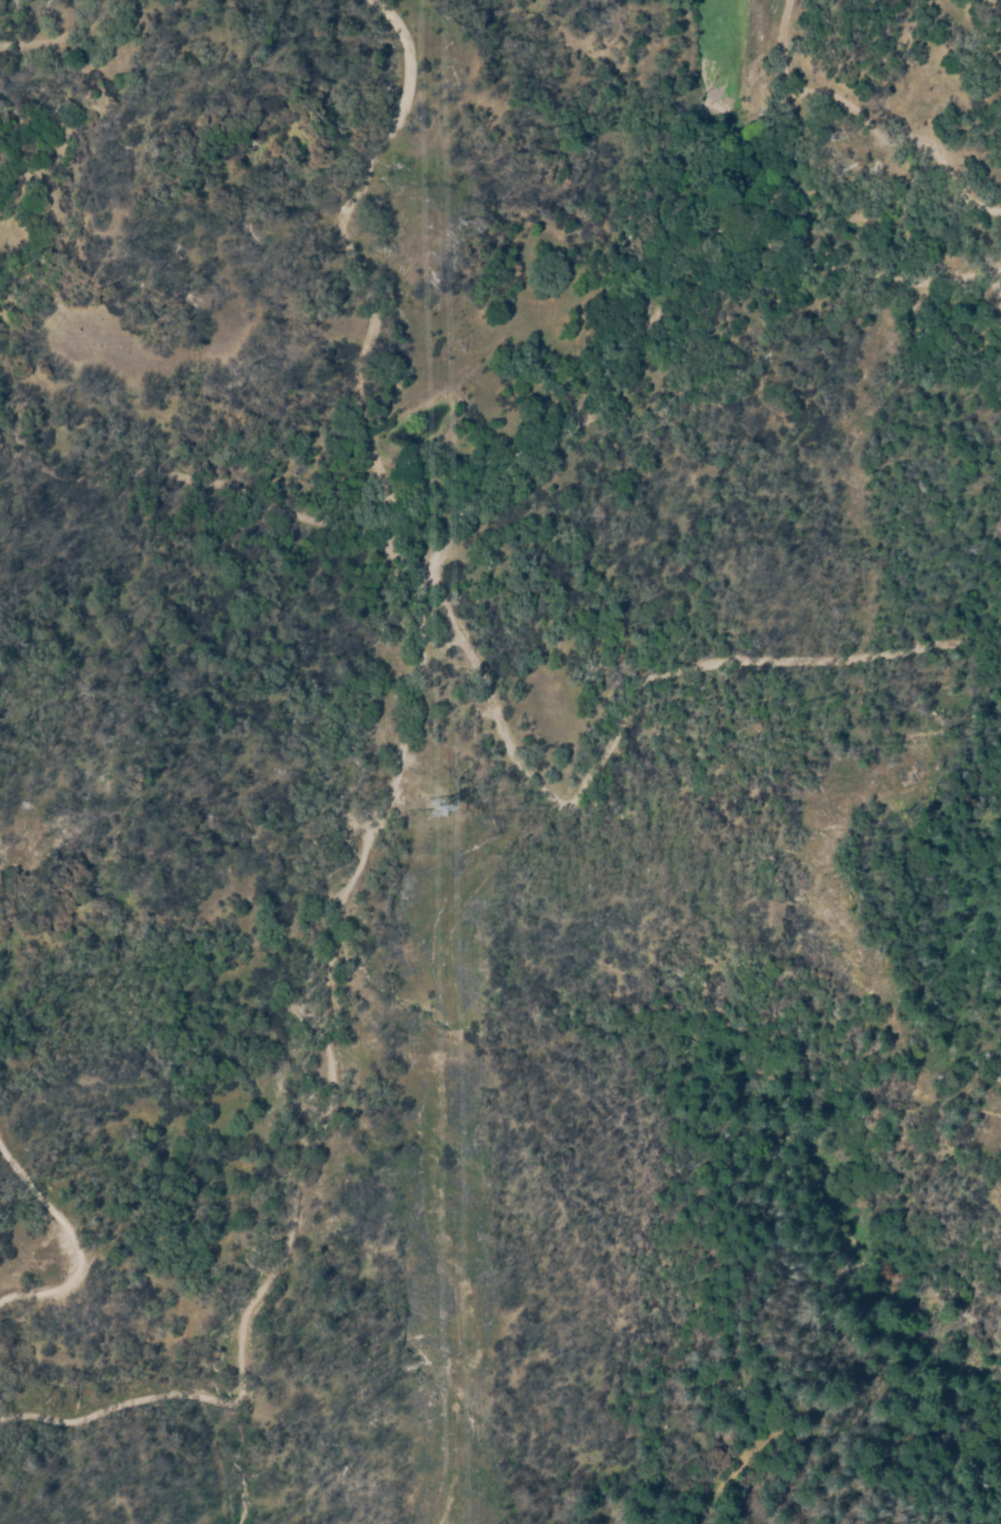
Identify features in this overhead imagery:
power tower: (436, 812)

